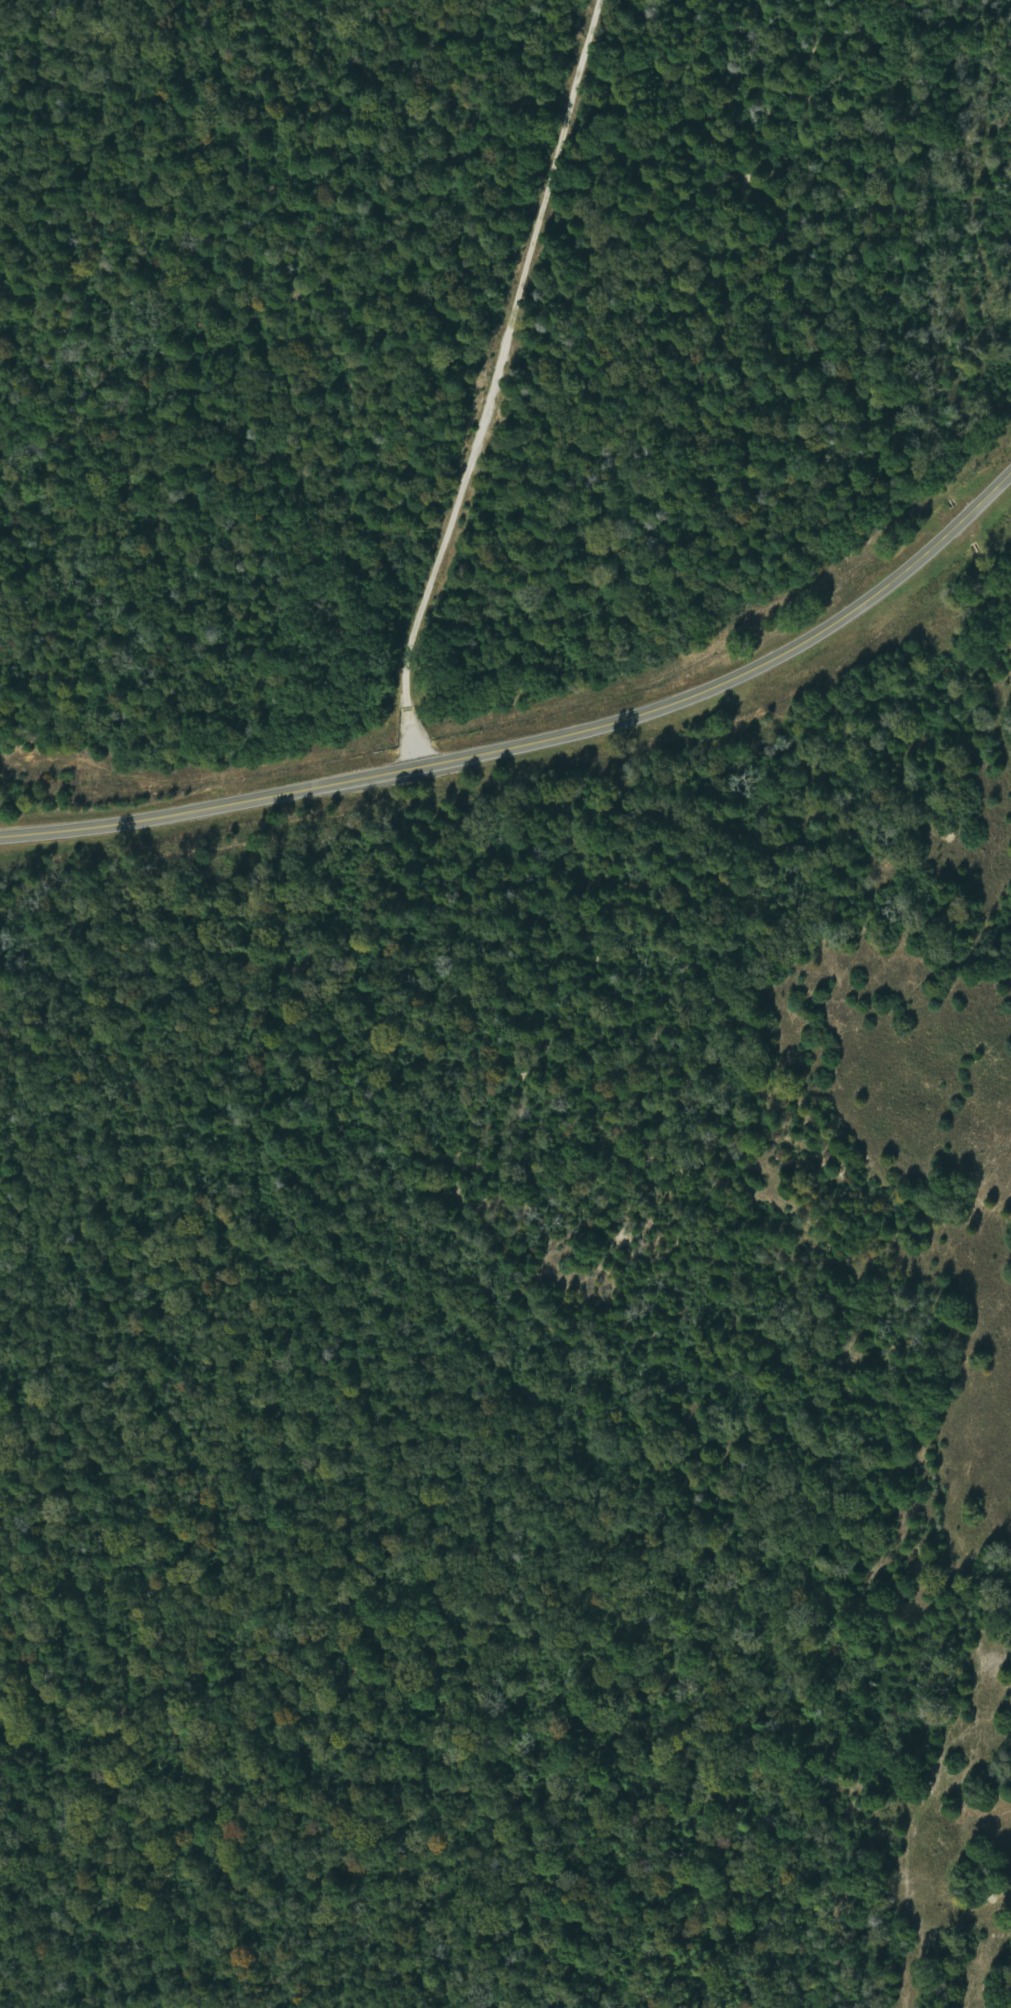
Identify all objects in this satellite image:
road: (492, 384)
road: (541, 739)

